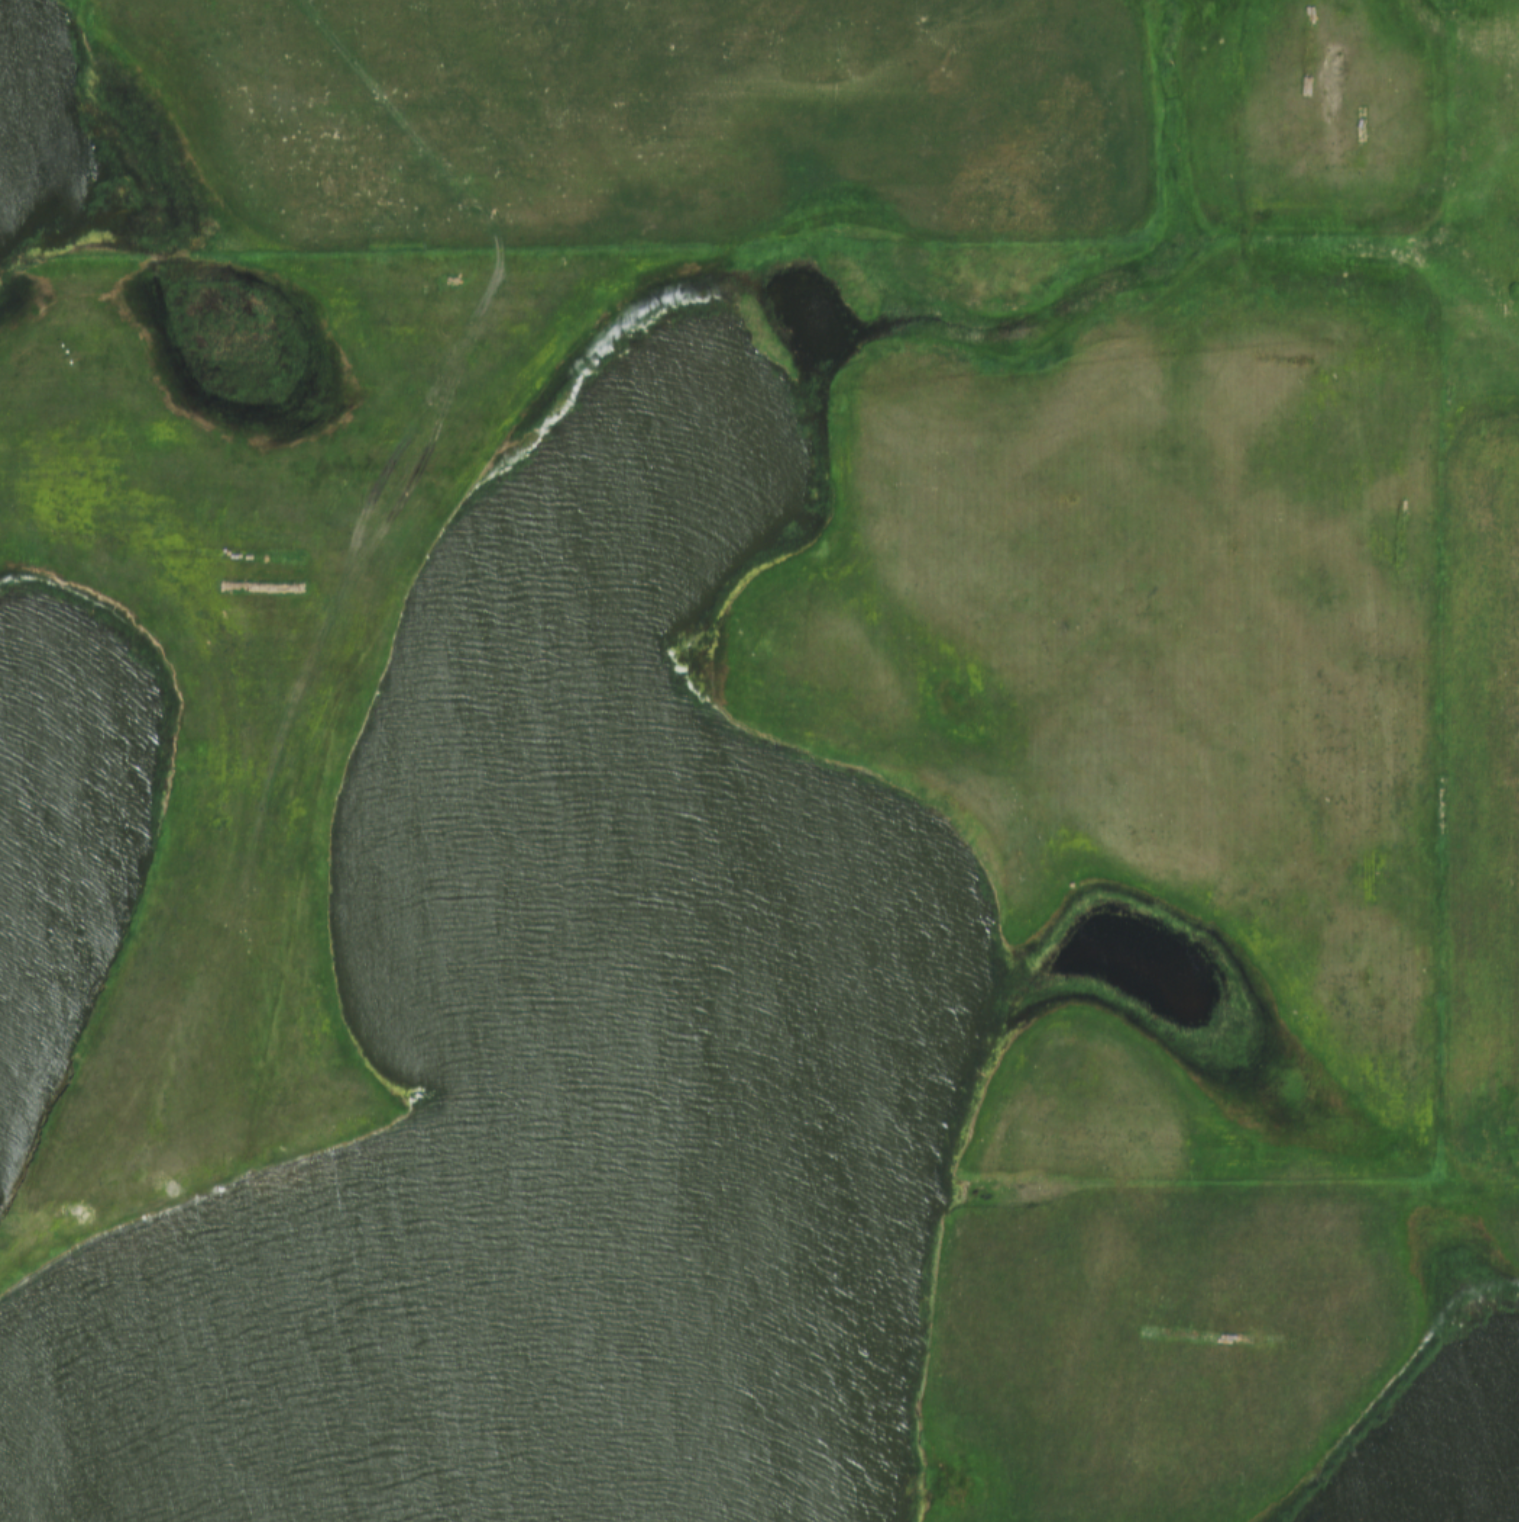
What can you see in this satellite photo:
road: (1397, 1400)

